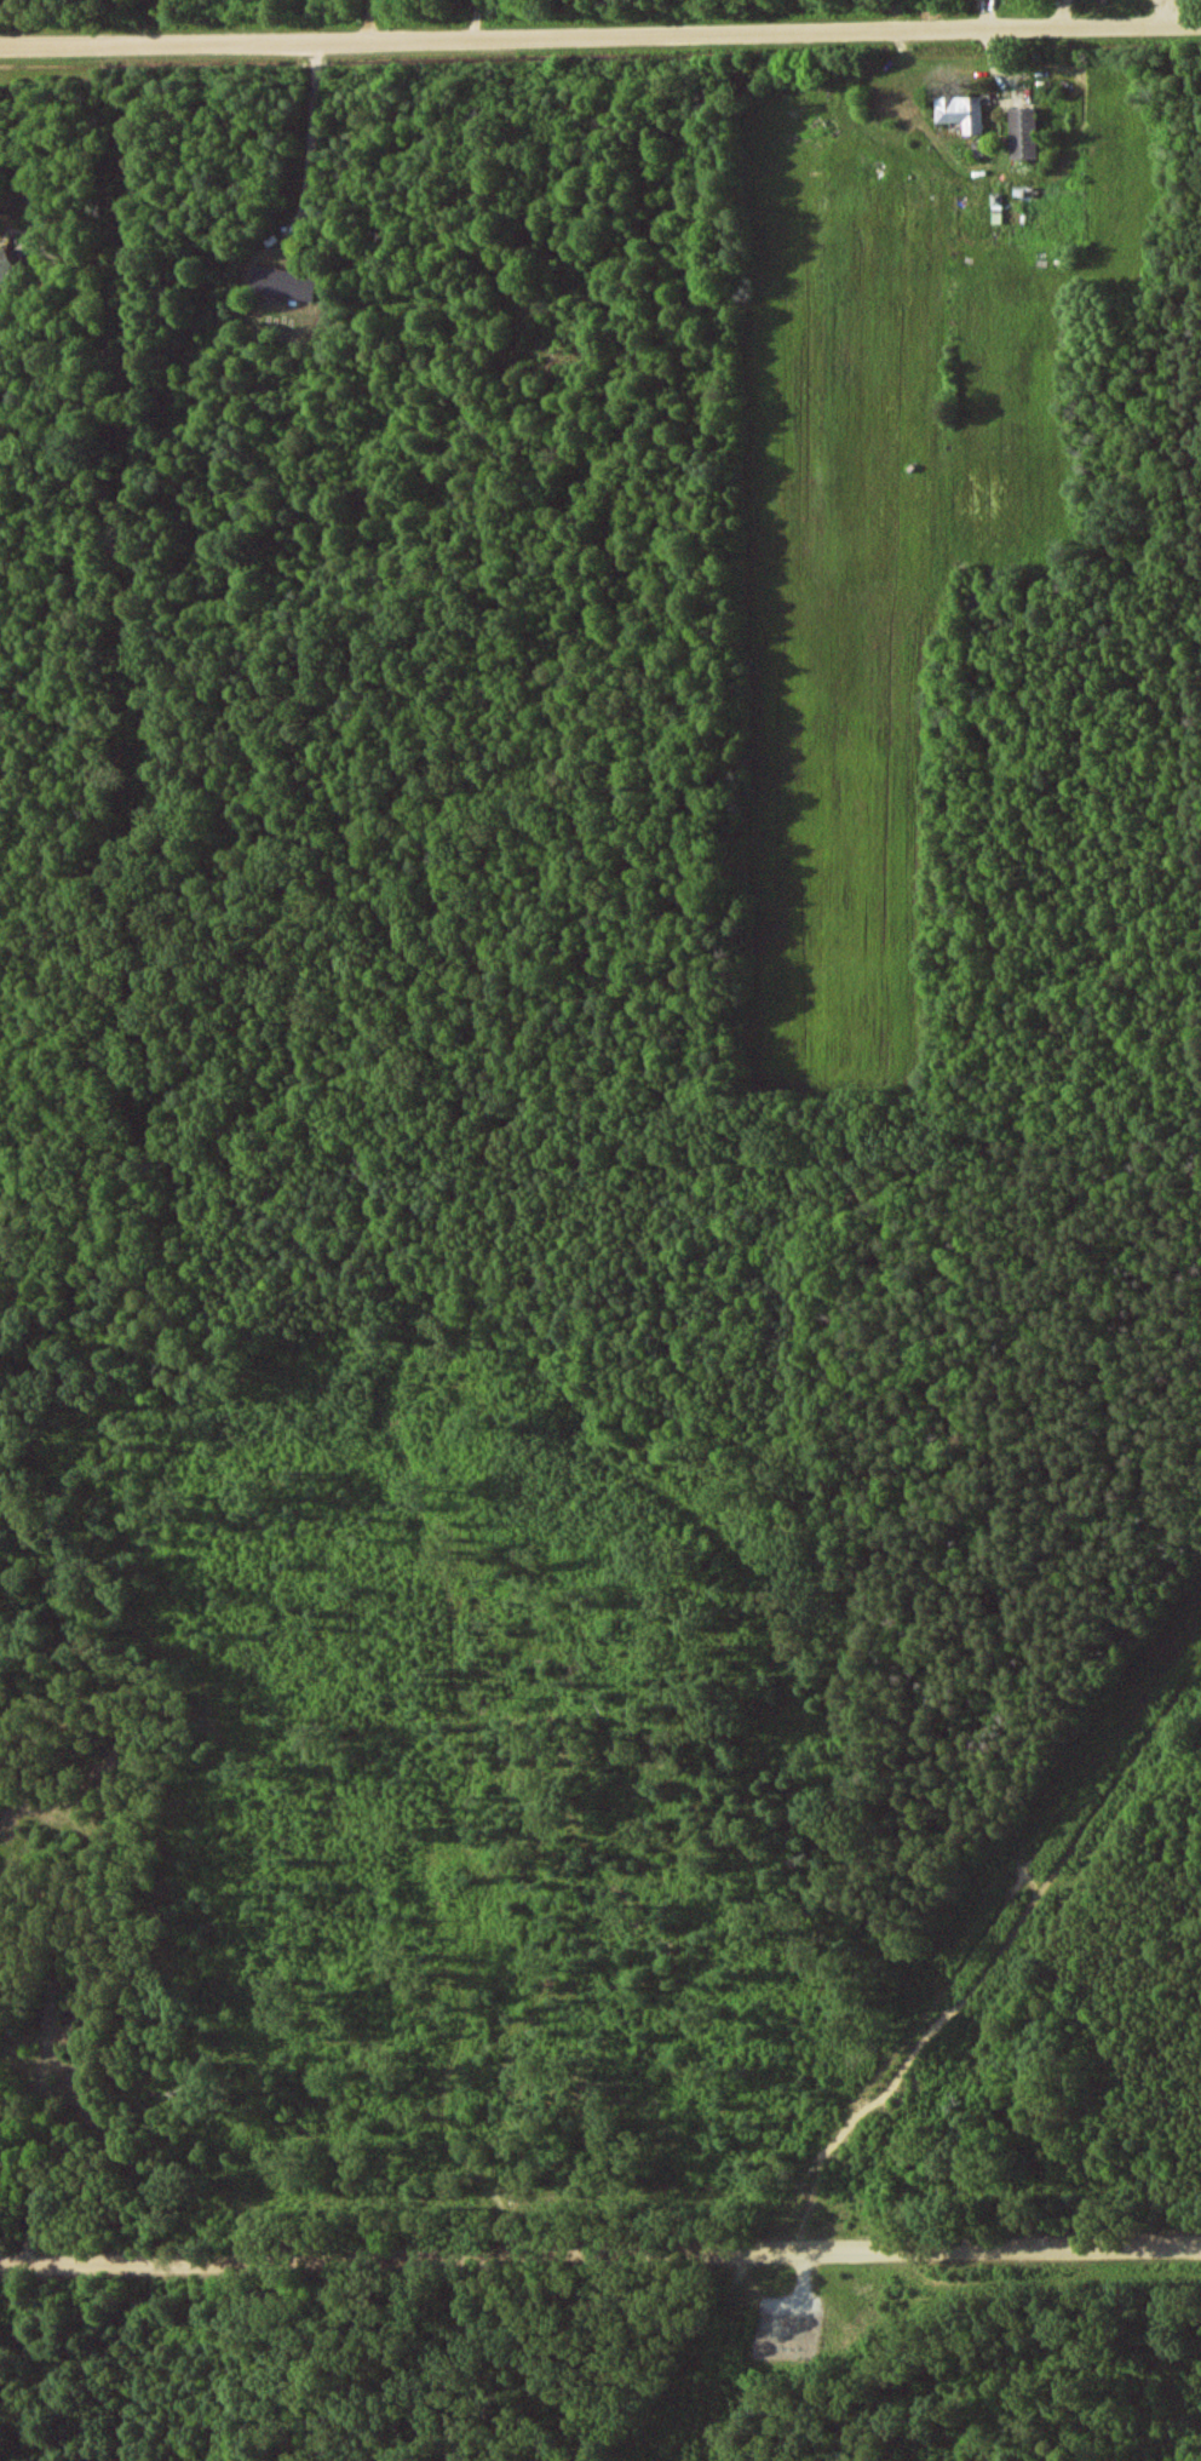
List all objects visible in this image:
road: (368, 24)
road: (860, 39)
road: (259, 48)
building: (959, 115)
building: (1022, 134)
road: (309, 160)
road: (30, 196)
building: (5, 265)
building: (281, 285)
road: (599, 2255)
power substation: (791, 2329)

